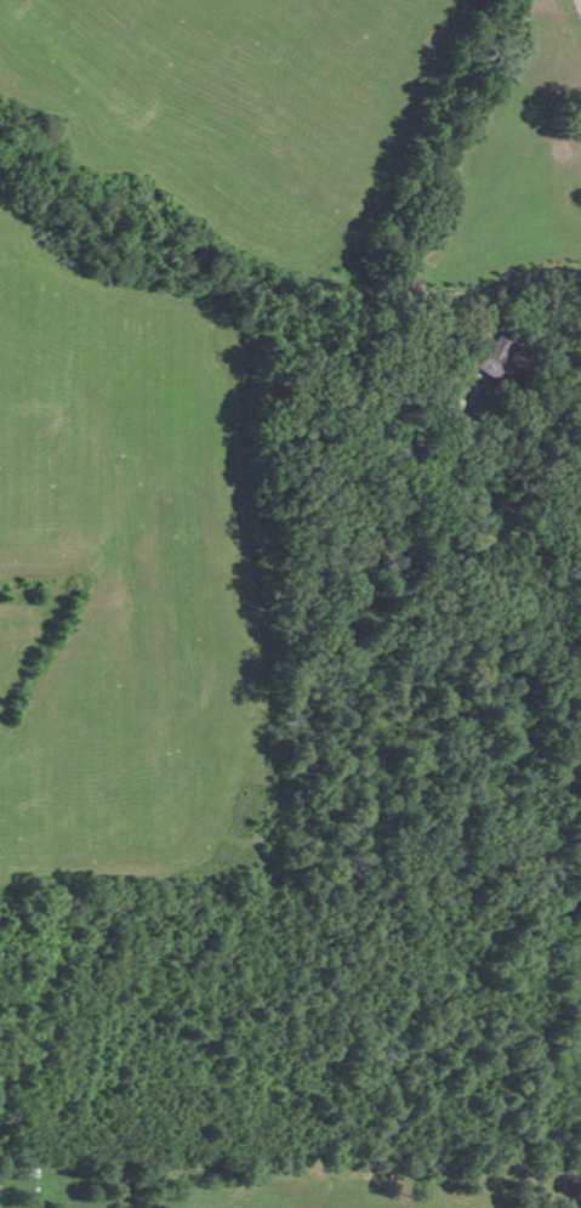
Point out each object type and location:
road: (580, 0)
building: (496, 358)

